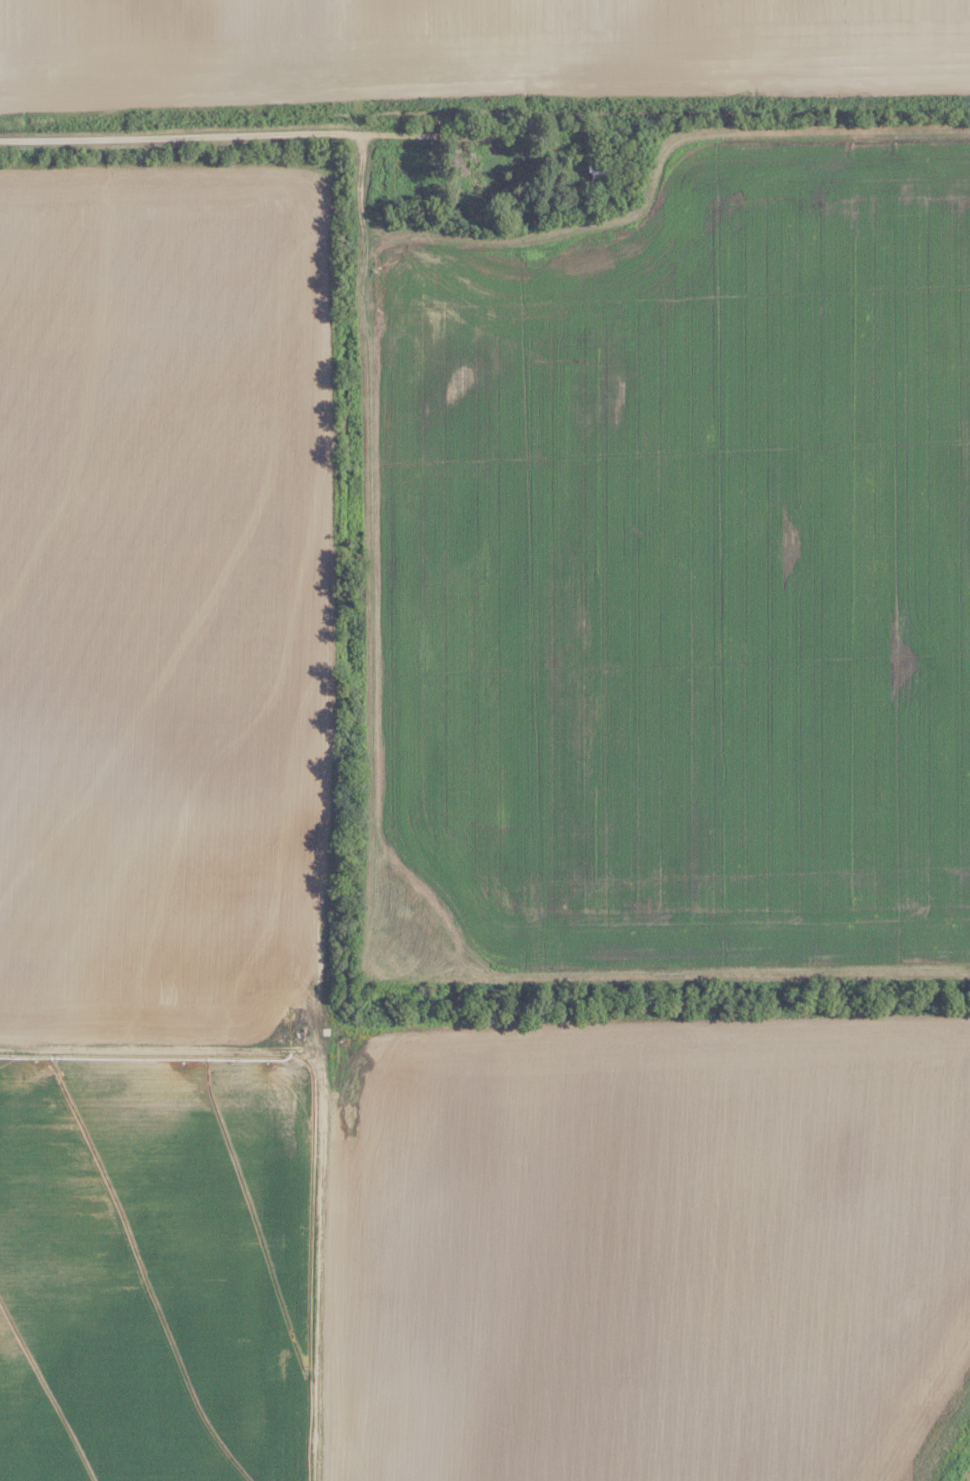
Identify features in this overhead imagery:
road: (241, 133)
building: (594, 171)

